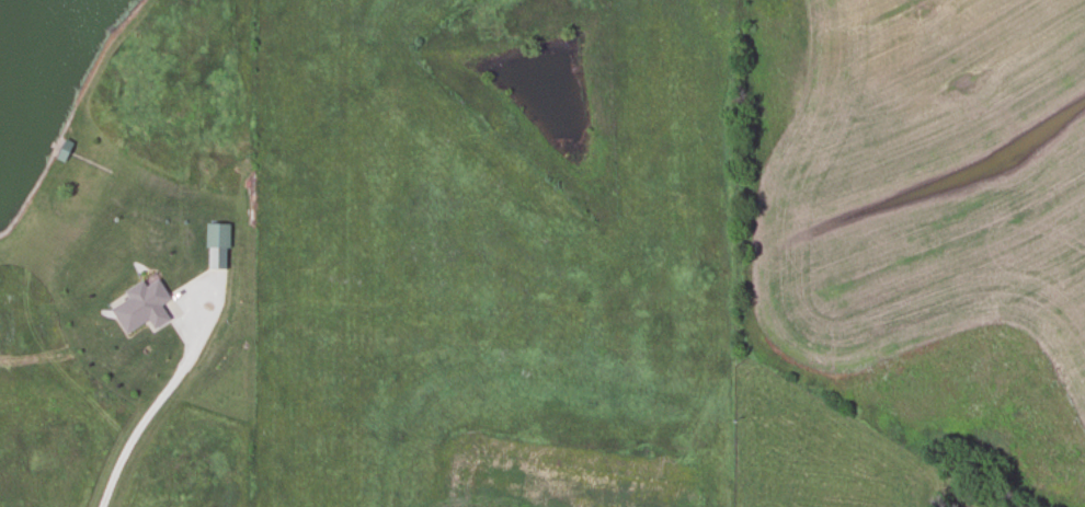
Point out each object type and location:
crop: (922, 221)
building: (215, 233)

